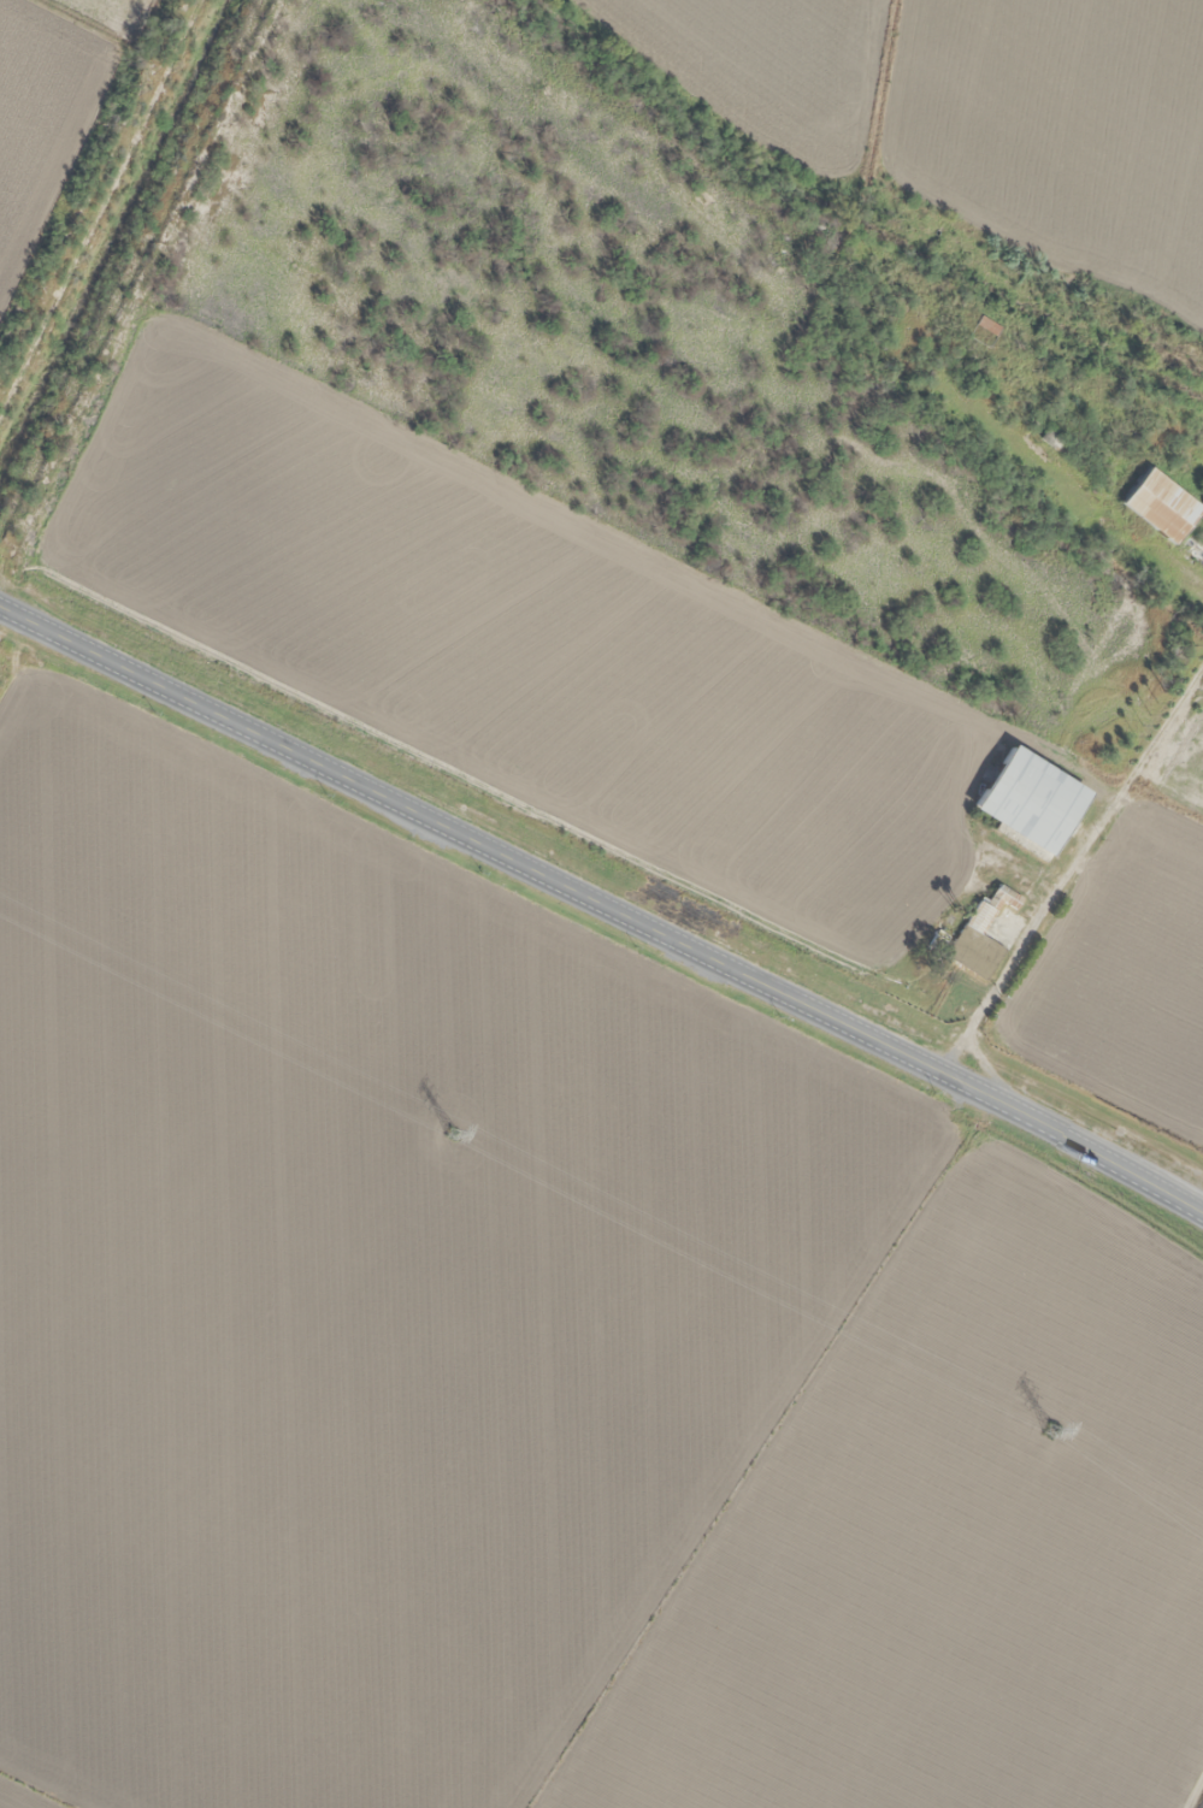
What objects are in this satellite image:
road: (602, 898)
power tower: (453, 1134)
power tower: (1052, 1432)

